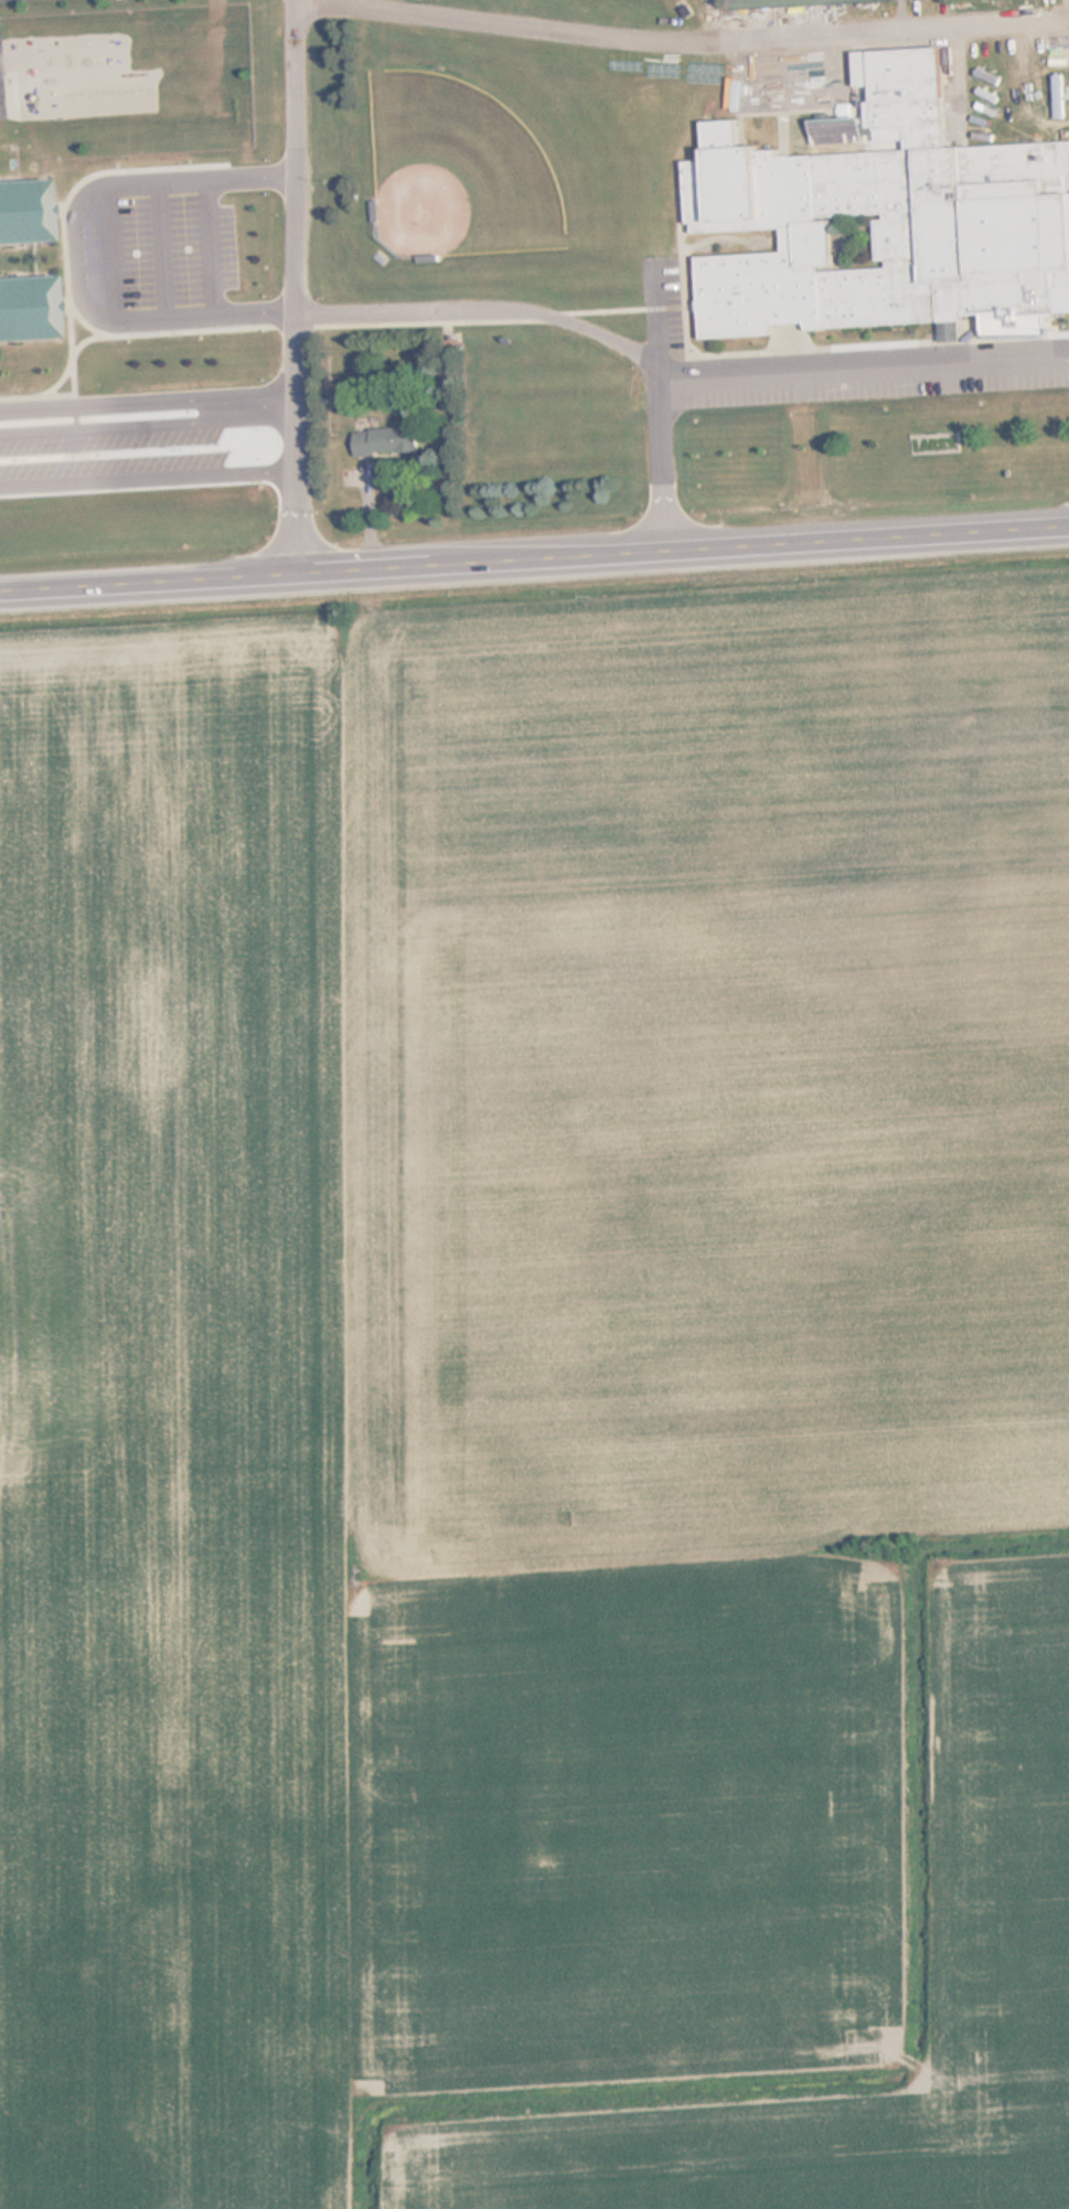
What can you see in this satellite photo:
park: (770, 2)
road: (681, 38)
park: (458, 171)
building: (376, 211)
building: (25, 212)
building: (883, 217)
road: (64, 248)
building: (429, 258)
road: (295, 286)
building: (28, 309)
road: (276, 313)
road: (162, 331)
road: (84, 341)
road: (782, 375)
road: (58, 381)
road: (148, 408)
building: (387, 441)
road: (534, 558)

